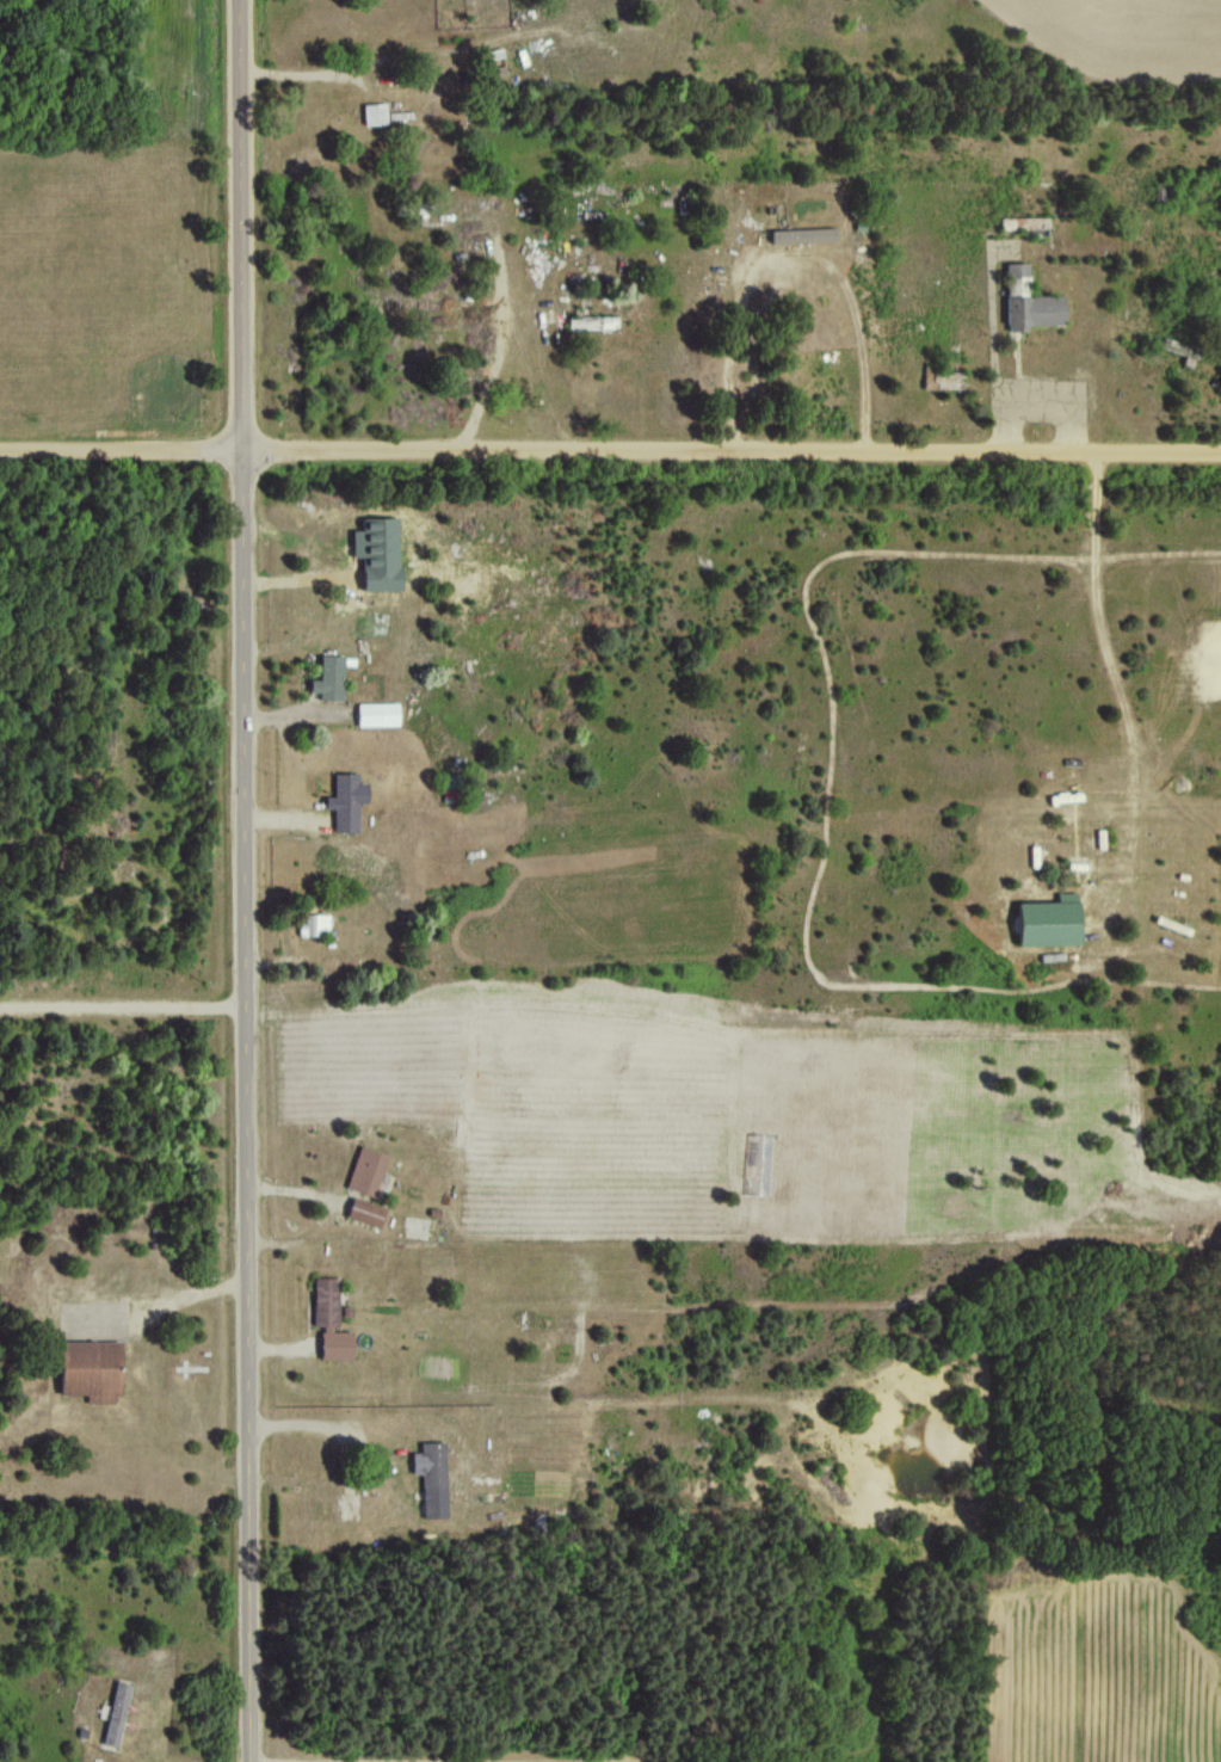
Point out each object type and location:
road: (338, 69)
building: (374, 112)
building: (803, 234)
road: (803, 254)
building: (1029, 301)
building: (592, 321)
road: (494, 347)
building: (942, 378)
road: (1042, 401)
road: (610, 451)
building: (377, 552)
road: (1099, 587)
building: (328, 677)
building: (377, 714)
building: (346, 801)
road: (286, 815)
road: (245, 880)
building: (1049, 920)
building: (314, 924)
road: (123, 1004)
building: (757, 1164)
building: (366, 1170)
building: (365, 1212)
building: (329, 1320)
building: (91, 1369)
road: (314, 1423)
building: (432, 1478)
building: (117, 1713)
road: (411, 1758)

